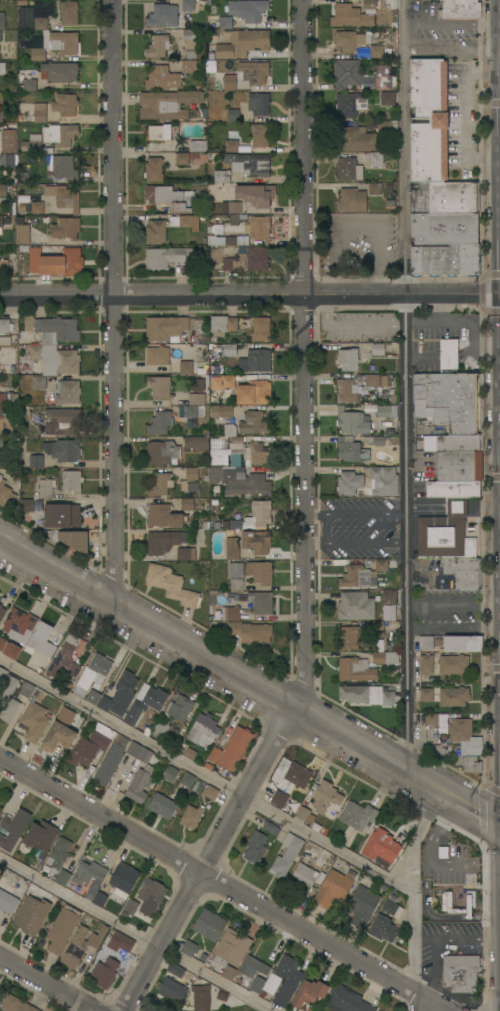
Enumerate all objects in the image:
building: (370, 4)
building: (458, 9)
building: (248, 10)
building: (478, 10)
building: (68, 13)
building: (42, 14)
building: (168, 14)
building: (346, 14)
building: (25, 17)
building: (2, 20)
building: (225, 22)
road: (452, 23)
building: (0, 36)
building: (351, 40)
building: (190, 43)
building: (242, 43)
building: (56, 44)
building: (157, 46)
road: (452, 49)
building: (376, 51)
building: (190, 66)
building: (2, 68)
building: (58, 72)
building: (252, 72)
building: (346, 73)
building: (161, 78)
building: (379, 79)
building: (30, 80)
building: (229, 80)
building: (387, 98)
building: (258, 103)
building: (65, 104)
building: (167, 104)
building: (349, 104)
road: (467, 111)
building: (40, 112)
building: (1, 115)
building: (233, 115)
building: (437, 120)
building: (386, 126)
building: (159, 132)
building: (175, 132)
building: (59, 134)
building: (260, 135)
building: (355, 139)
building: (8, 140)
building: (35, 145)
building: (198, 146)
building: (231, 146)
road: (497, 154)
building: (181, 158)
building: (7, 159)
building: (375, 159)
building: (248, 164)
building: (63, 168)
building: (153, 169)
building: (348, 169)
building: (221, 177)
building: (374, 188)
building: (3, 190)
building: (260, 196)
building: (63, 197)
building: (445, 197)
building: (170, 198)
building: (351, 200)
building: (212, 201)
building: (37, 207)
building: (234, 207)
building: (238, 218)
building: (180, 221)
building: (1, 222)
road: (358, 222)
building: (258, 227)
building: (66, 228)
building: (444, 228)
building: (215, 229)
building: (155, 231)
building: (22, 234)
building: (227, 240)
road: (497, 246)
building: (166, 257)
building: (247, 259)
building: (445, 260)
building: (55, 263)
building: (3, 265)
road: (498, 292)
road: (248, 294)
road: (113, 299)
building: (222, 323)
building: (4, 326)
building: (165, 328)
building: (260, 329)
building: (55, 345)
building: (377, 348)
building: (228, 349)
road: (497, 352)
building: (448, 354)
road: (302, 355)
building: (157, 356)
building: (347, 359)
building: (255, 360)
building: (187, 367)
building: (374, 380)
building: (228, 381)
building: (38, 383)
road: (403, 385)
building: (159, 387)
building: (67, 391)
building: (345, 391)
building: (197, 392)
building: (253, 392)
building: (3, 399)
building: (450, 401)
building: (379, 410)
building: (221, 411)
building: (191, 414)
building: (3, 420)
building: (64, 421)
building: (160, 422)
building: (352, 422)
building: (254, 423)
building: (225, 437)
building: (375, 440)
building: (196, 443)
building: (453, 443)
building: (1, 447)
building: (63, 450)
building: (351, 450)
building: (161, 452)
building: (248, 452)
road: (497, 453)
building: (218, 460)
building: (36, 461)
building: (459, 466)
building: (191, 473)
building: (223, 474)
building: (71, 481)
building: (383, 481)
building: (348, 483)
building: (159, 484)
building: (250, 486)
building: (45, 489)
building: (453, 489)
road: (499, 493)
building: (5, 494)
building: (187, 504)
building: (27, 505)
building: (457, 506)
building: (260, 512)
road: (355, 514)
building: (61, 516)
building: (164, 516)
building: (38, 517)
building: (232, 525)
building: (443, 538)
building: (72, 540)
building: (256, 541)
road: (498, 541)
road: (355, 544)
building: (168, 546)
building: (232, 548)
building: (463, 571)
building: (260, 572)
building: (361, 575)
building: (235, 576)
building: (171, 585)
building: (260, 602)
building: (389, 604)
building: (355, 605)
road: (452, 605)
building: (1, 611)
building: (230, 613)
building: (18, 624)
building: (375, 625)
building: (250, 632)
road: (499, 637)
building: (348, 638)
building: (40, 640)
building: (428, 642)
building: (462, 643)
building: (9, 649)
building: (385, 658)
building: (64, 659)
building: (425, 664)
building: (453, 664)
building: (355, 669)
building: (40, 671)
building: (92, 674)
road: (249, 683)
building: (14, 685)
building: (426, 694)
building: (119, 695)
building: (365, 695)
building: (453, 696)
building: (92, 697)
building: (145, 702)
building: (7, 707)
building: (179, 707)
road: (499, 714)
building: (431, 719)
building: (34, 721)
building: (159, 729)
building: (202, 730)
building: (57, 737)
building: (464, 738)
building: (91, 745)
building: (231, 747)
building: (190, 753)
building: (468, 763)
building: (108, 764)
building: (139, 773)
building: (170, 773)
building: (297, 775)
building: (187, 779)
building: (210, 792)
building: (325, 796)
road: (249, 797)
building: (279, 799)
building: (162, 805)
building: (302, 813)
building: (357, 815)
building: (191, 817)
building: (13, 828)
building: (270, 828)
road: (416, 835)
building: (40, 836)
building: (255, 847)
building: (58, 853)
building: (385, 854)
building: (286, 856)
road: (204, 859)
road: (427, 865)
building: (304, 873)
building: (89, 875)
building: (62, 877)
building: (123, 877)
building: (320, 878)
road: (224, 885)
building: (333, 888)
building: (152, 892)
building: (99, 899)
building: (7, 902)
building: (362, 904)
building: (130, 906)
building: (390, 906)
road: (425, 907)
building: (31, 915)
road: (485, 916)
road: (467, 917)
building: (208, 925)
building: (382, 928)
building: (62, 929)
road: (136, 933)
road: (456, 939)
building: (121, 941)
building: (80, 945)
building: (188, 948)
building: (230, 948)
building: (252, 967)
building: (175, 969)
road: (433, 969)
building: (105, 971)
building: (228, 972)
building: (461, 973)
building: (286, 979)
road: (48, 982)
building: (257, 984)
building: (269, 985)
building: (172, 990)
building: (309, 992)
building: (0, 993)
building: (222, 996)
building: (200, 997)
building: (346, 1000)
road: (69, 1001)
building: (16, 1004)
building: (310, 1009)

